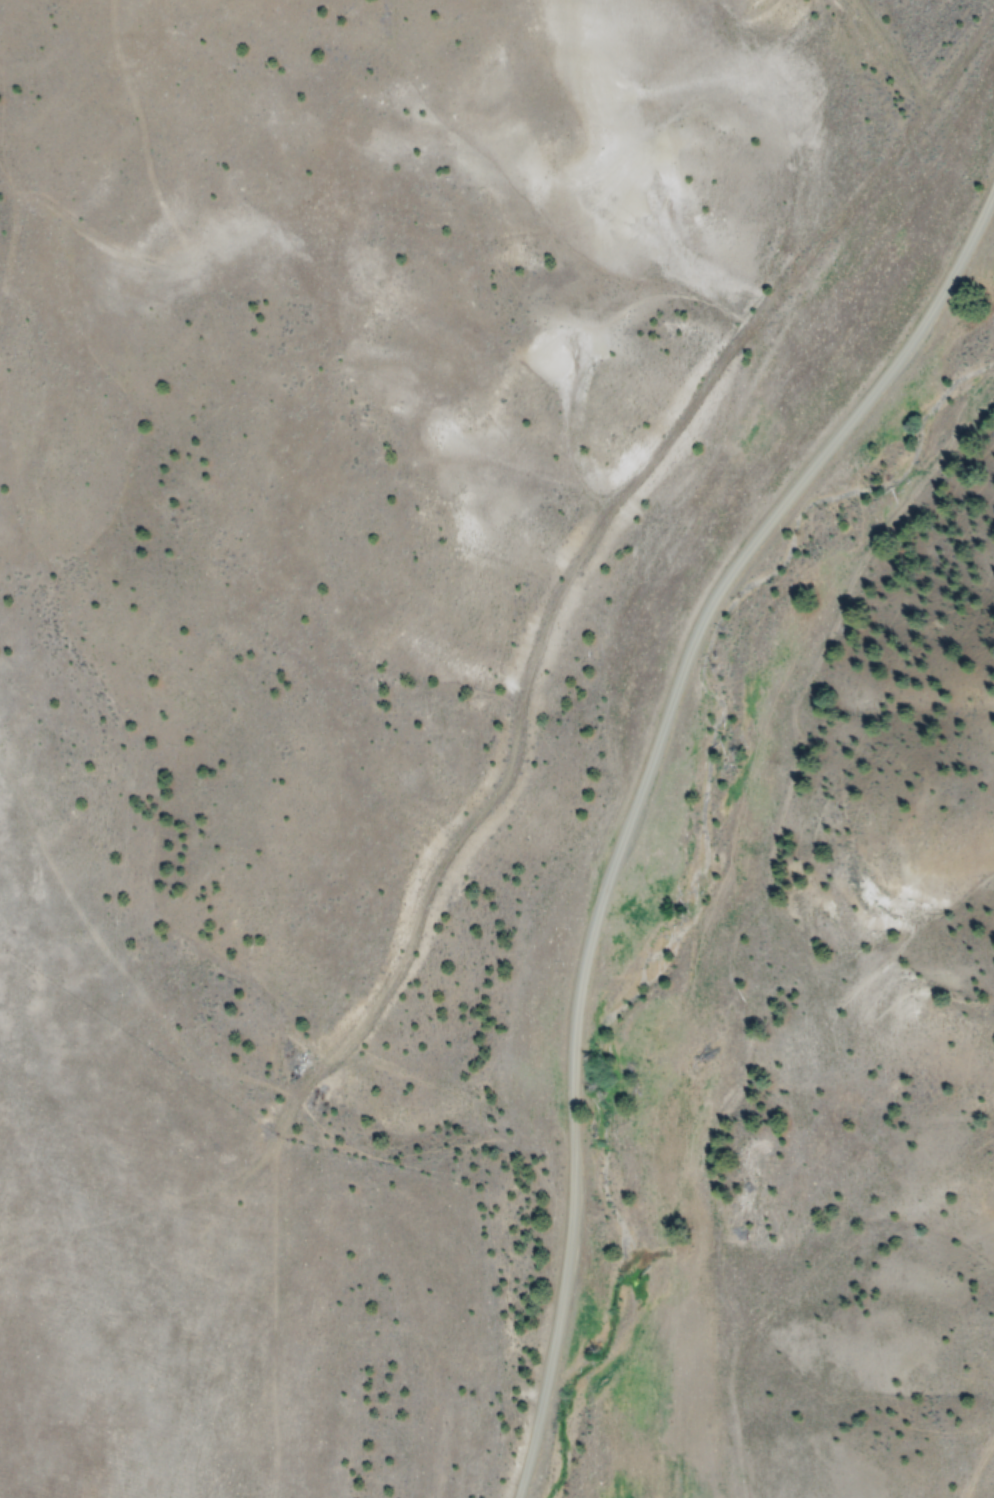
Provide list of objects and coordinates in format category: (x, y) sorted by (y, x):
road: (637, 797)

